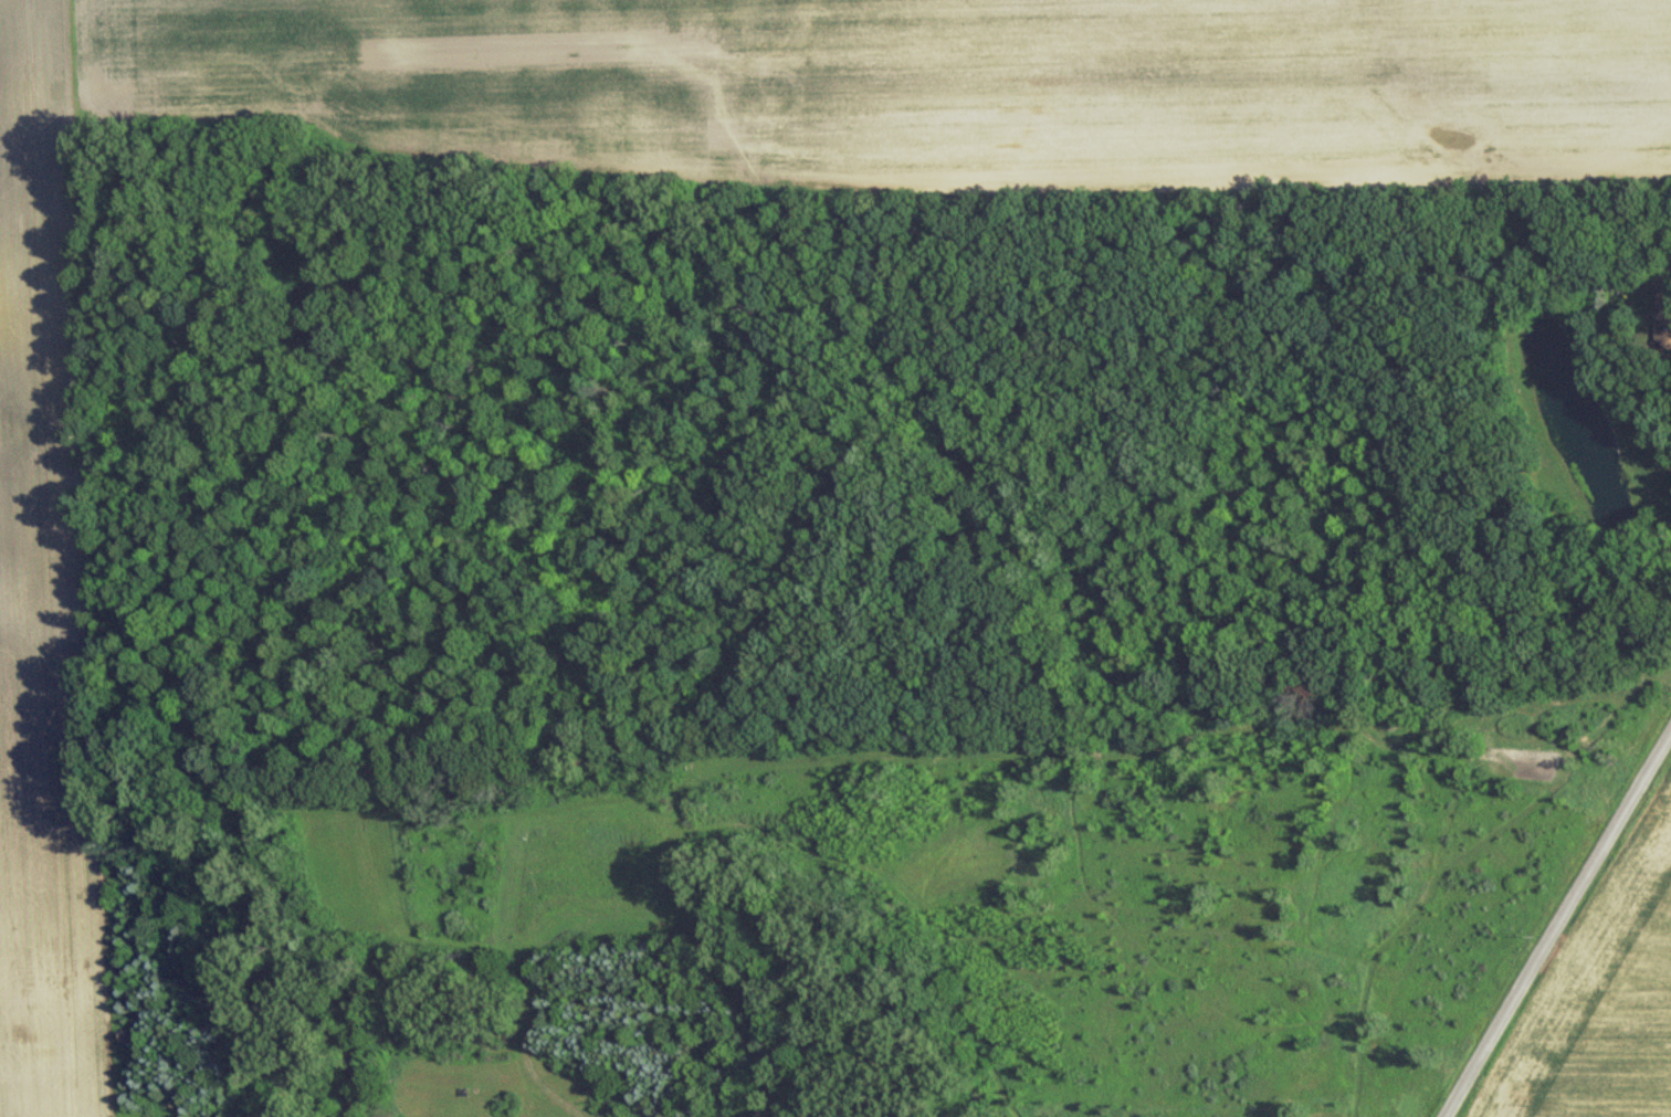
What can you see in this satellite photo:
road: (1553, 919)

